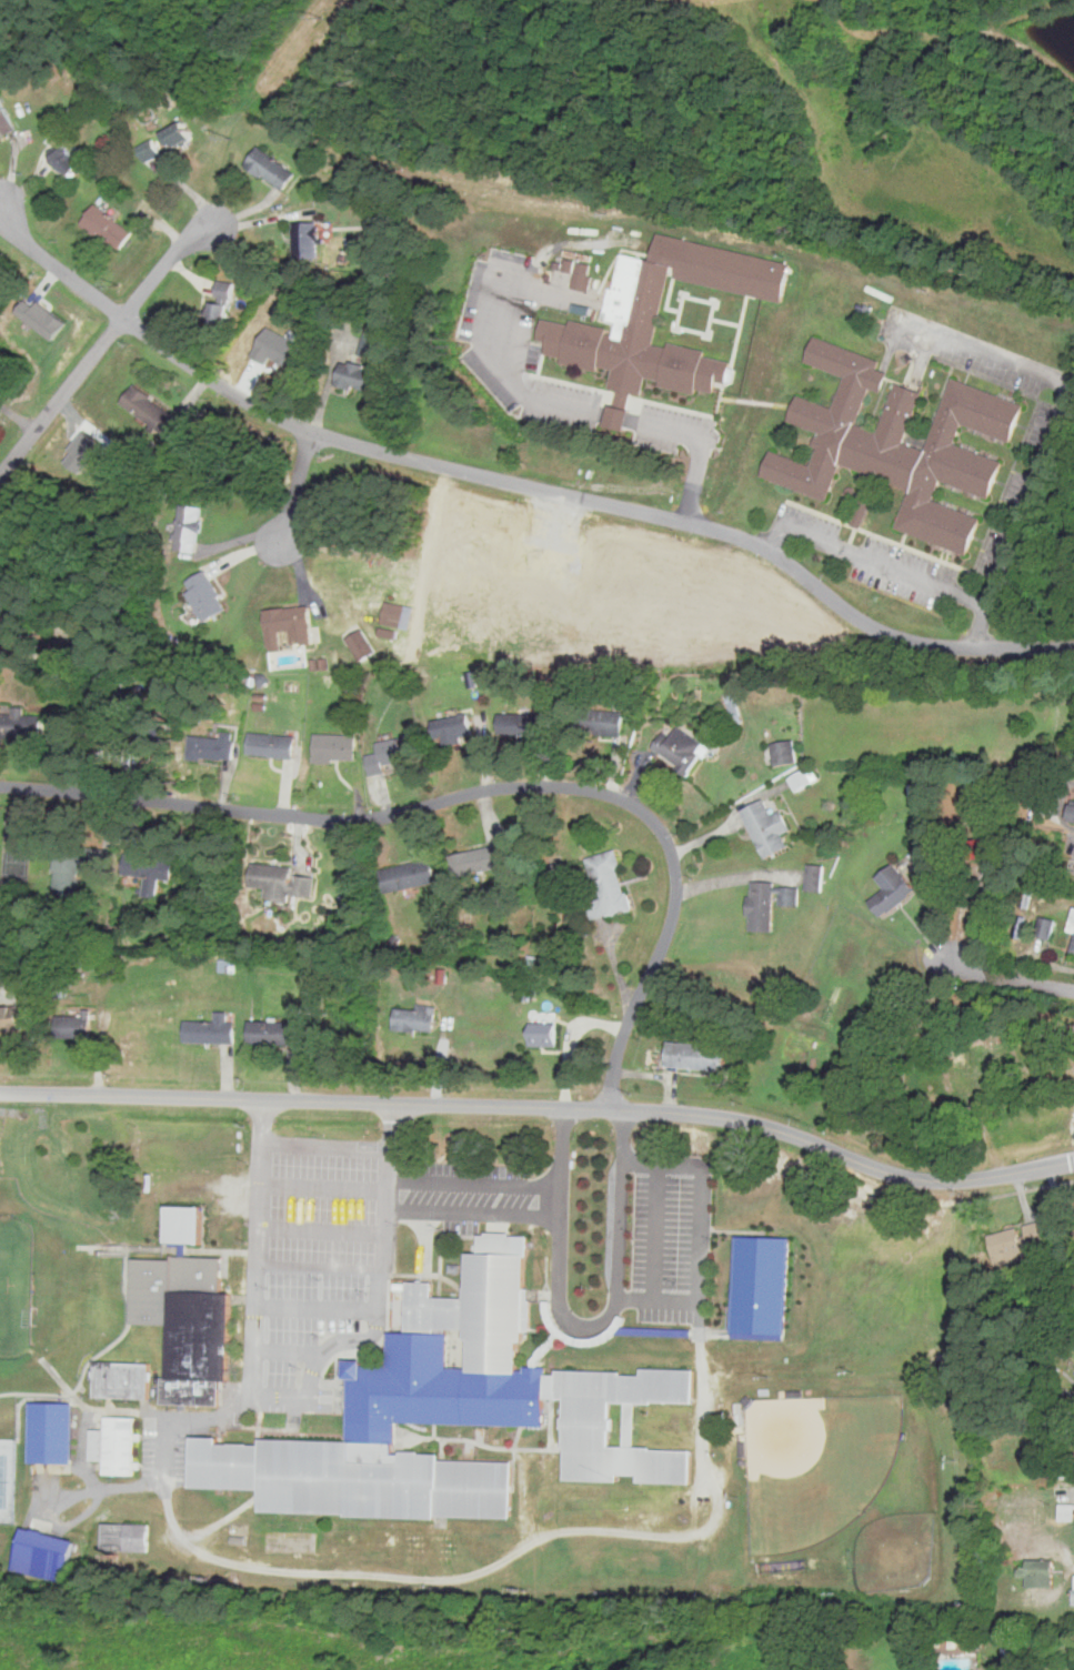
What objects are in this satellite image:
building: (4, 120)
building: (175, 131)
building: (149, 149)
building: (61, 158)
building: (268, 165)
building: (107, 225)
building: (304, 237)
building: (223, 288)
building: (220, 310)
building: (634, 336)
road: (101, 343)
building: (370, 346)
building: (352, 373)
road: (528, 395)
building: (149, 410)
building: (826, 416)
road: (1051, 441)
building: (884, 447)
building: (955, 462)
road: (514, 481)
road: (298, 487)
building: (187, 526)
road: (874, 559)
building: (203, 595)
building: (288, 624)
building: (360, 644)
building: (524, 720)
building: (600, 722)
building: (19, 724)
building: (450, 727)
building: (270, 745)
building: (211, 746)
building: (333, 746)
building: (680, 747)
building: (783, 752)
building: (391, 753)
building: (800, 779)
road: (480, 794)
building: (1072, 813)
building: (766, 826)
park: (17, 845)
building: (980, 848)
building: (478, 861)
building: (76, 867)
building: (145, 869)
building: (408, 876)
building: (815, 877)
building: (272, 879)
building: (609, 883)
building: (303, 885)
building: (891, 888)
building: (789, 896)
building: (762, 906)
building: (598, 908)
building: (1046, 927)
building: (1071, 942)
road: (1008, 978)
building: (10, 1018)
building: (416, 1019)
building: (72, 1026)
building: (211, 1030)
building: (275, 1033)
building: (542, 1035)
building: (695, 1056)
road: (543, 1106)
road: (327, 1145)
road: (475, 1183)
road: (324, 1187)
road: (474, 1214)
building: (181, 1226)
road: (323, 1229)
road: (655, 1231)
building: (1020, 1244)
building: (502, 1245)
road: (560, 1247)
road: (321, 1267)
building: (454, 1268)
building: (194, 1275)
park: (14, 1285)
stadium: (30, 1287)
building: (762, 1289)
building: (149, 1294)
road: (672, 1300)
road: (317, 1307)
building: (431, 1310)
building: (494, 1312)
building: (653, 1332)
building: (571, 1336)
building: (198, 1337)
road: (289, 1351)
building: (121, 1380)
building: (550, 1387)
building: (651, 1388)
building: (189, 1392)
building: (434, 1392)
road: (301, 1397)
building: (584, 1397)
building: (1061, 1422)
building: (50, 1433)
building: (113, 1446)
building: (372, 1455)
building: (588, 1456)
building: (628, 1462)
park: (815, 1463)
building: (222, 1467)
building: (663, 1467)
park: (7, 1477)
building: (341, 1482)
building: (473, 1490)
building: (1065, 1512)
building: (124, 1538)
building: (414, 1547)
building: (445, 1548)
park: (894, 1550)
building: (42, 1557)
building: (1038, 1571)
road: (458, 1578)
building: (1073, 1599)

